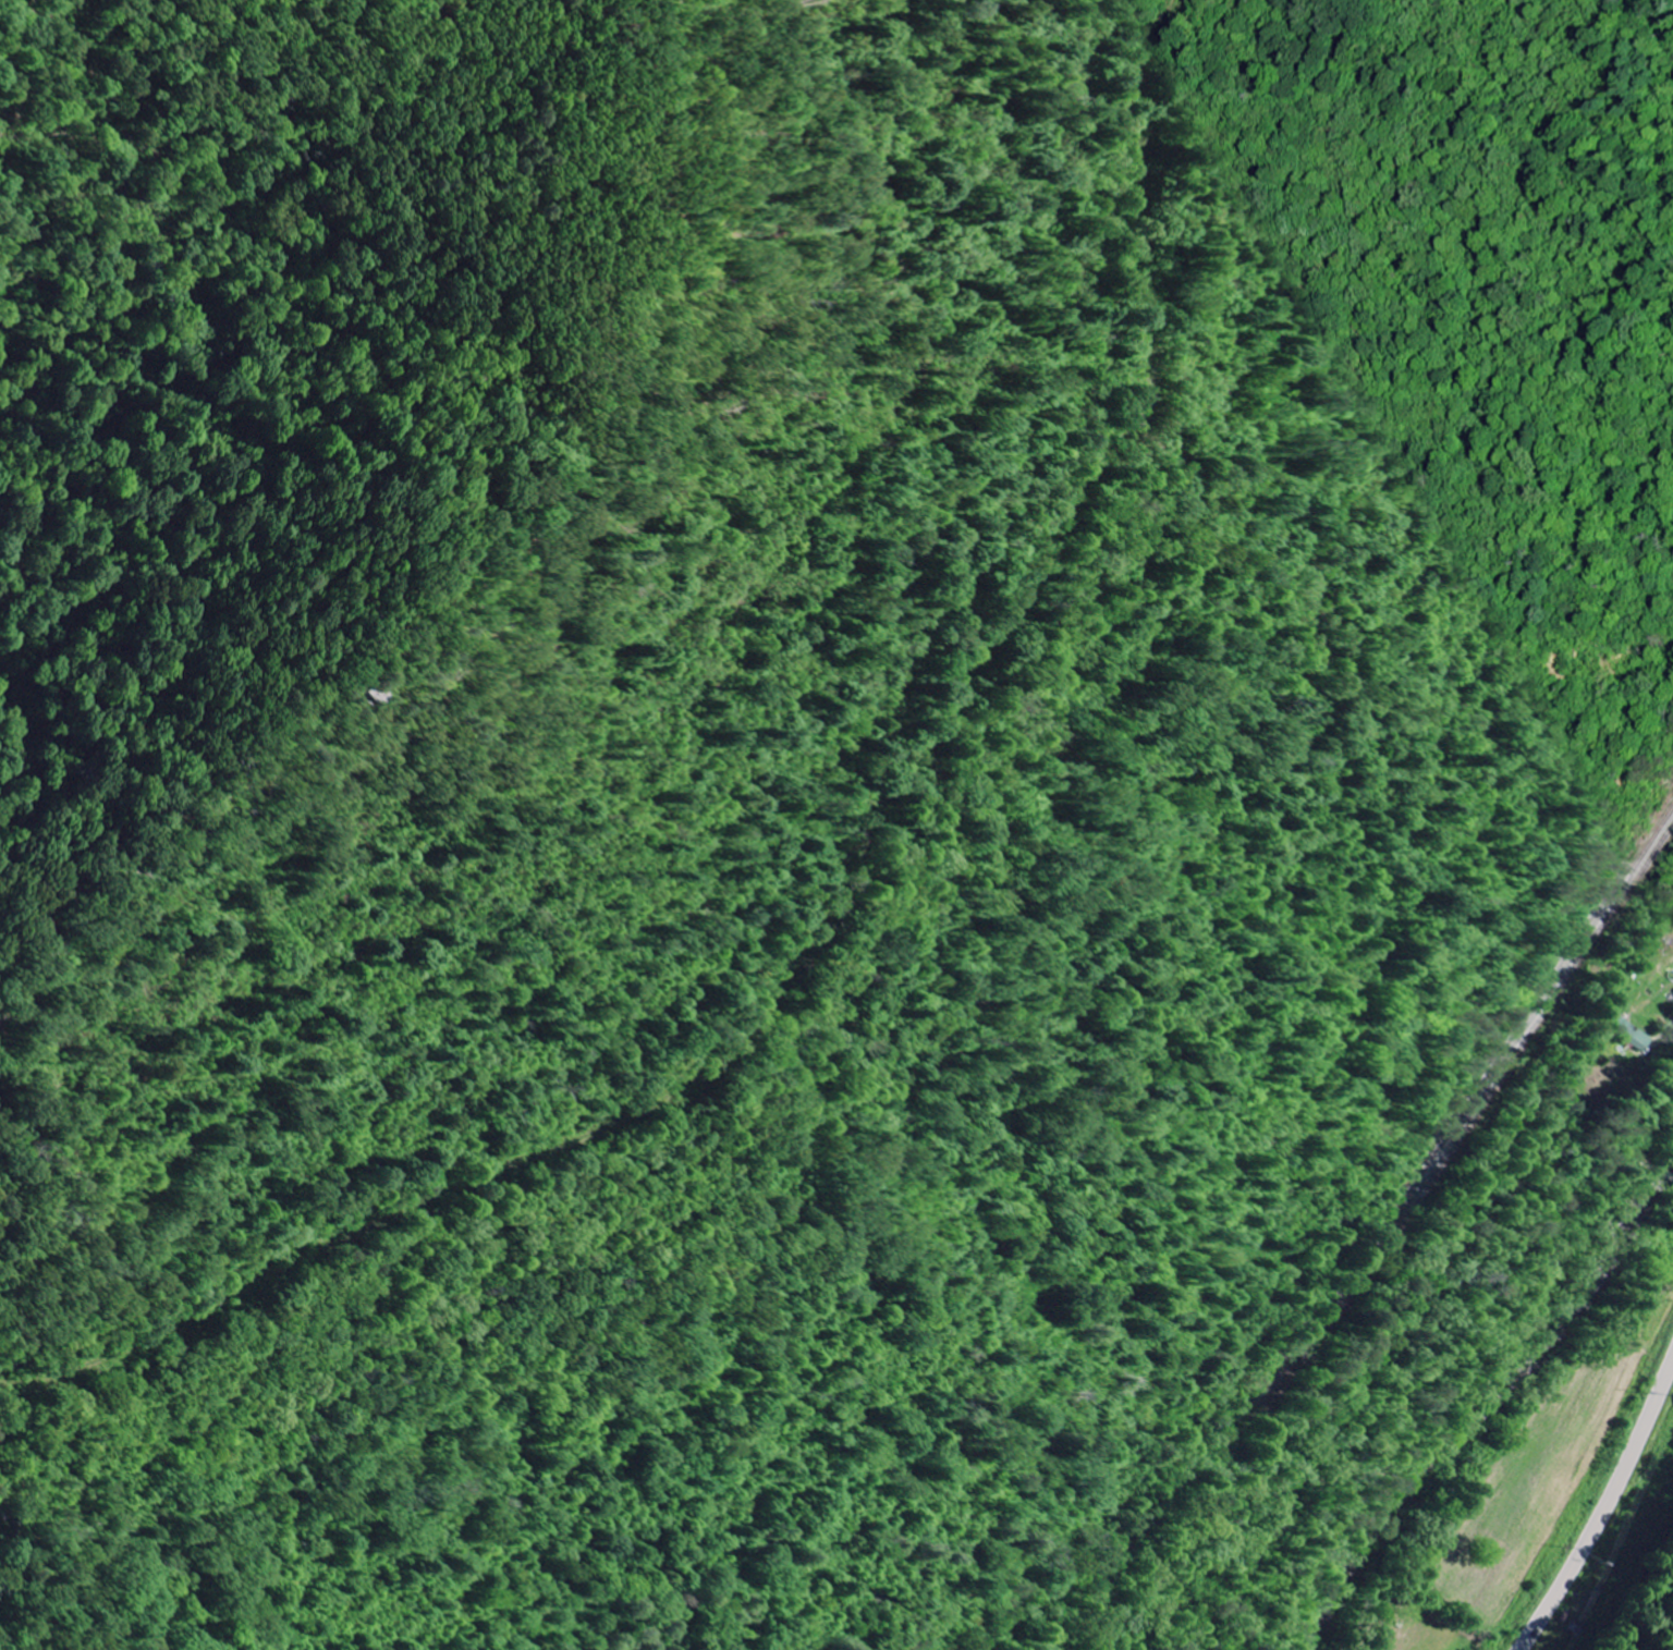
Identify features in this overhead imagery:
building: (1629, 1036)
railway: (1487, 1093)
road: (1547, 1209)
road: (1603, 1510)

